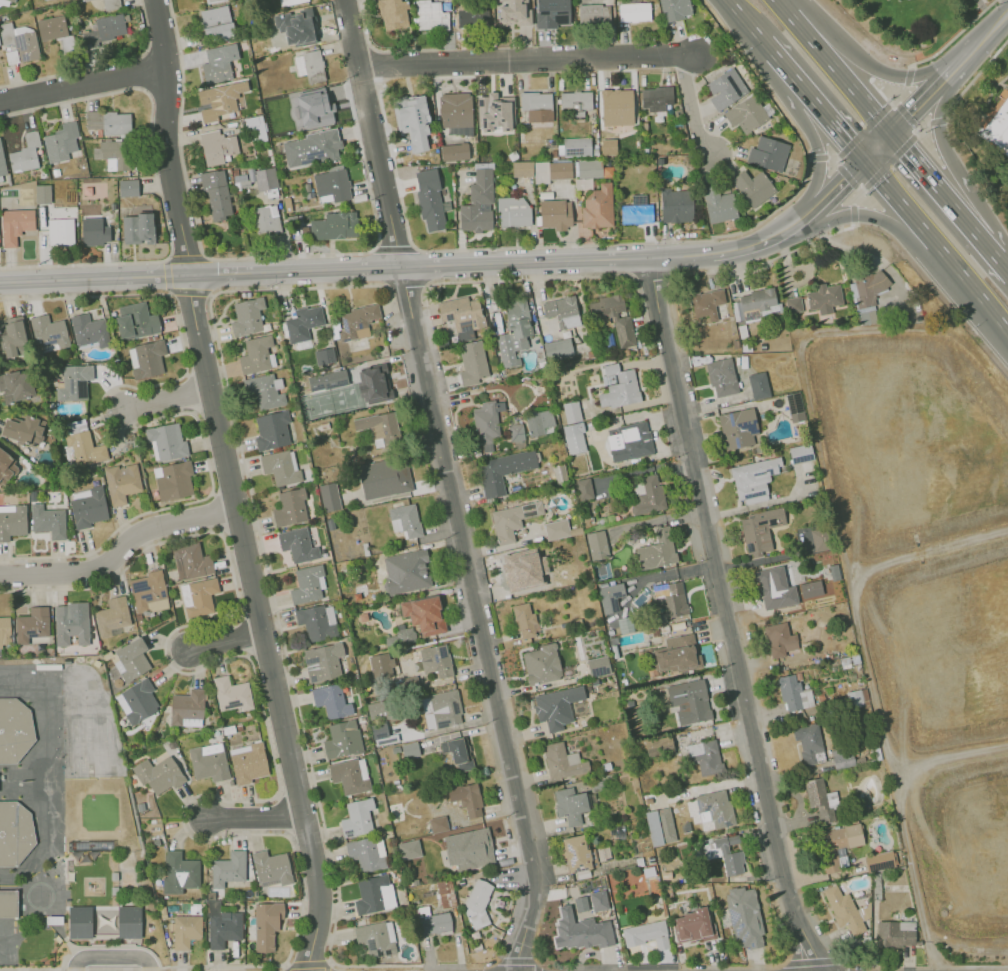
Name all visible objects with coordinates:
building: (12, 0)
building: (85, 0)
building: (213, 1)
building: (289, 2)
building: (3, 4)
building: (110, 4)
road: (975, 7)
building: (674, 9)
building: (633, 11)
building: (513, 13)
building: (392, 14)
building: (594, 14)
building: (472, 16)
building: (216, 22)
road: (741, 24)
park: (917, 25)
building: (51, 27)
building: (301, 28)
building: (104, 30)
road: (954, 36)
road: (984, 37)
building: (20, 41)
road: (381, 49)
road: (532, 61)
building: (218, 63)
road: (99, 65)
building: (309, 65)
road: (835, 66)
road: (376, 67)
road: (874, 68)
road: (781, 73)
road: (974, 77)
road: (84, 84)
building: (725, 88)
building: (655, 97)
building: (575, 99)
building: (219, 100)
road: (927, 100)
road: (893, 104)
building: (320, 106)
building: (536, 106)
building: (616, 106)
road: (690, 107)
building: (455, 109)
building: (494, 111)
road: (904, 112)
building: (747, 113)
traffic signals: (911, 115)
building: (412, 119)
building: (116, 123)
building: (995, 123)
road: (868, 124)
road: (832, 129)
road: (915, 130)
road: (372, 133)
building: (58, 141)
traffic signals: (846, 145)
building: (216, 146)
building: (576, 146)
building: (311, 147)
road: (876, 148)
traffic signals: (907, 150)
road: (943, 150)
building: (454, 151)
building: (24, 153)
building: (767, 153)
building: (116, 154)
road: (895, 155)
road: (837, 161)
road: (818, 163)
building: (2, 166)
road: (393, 168)
building: (521, 168)
building: (588, 168)
building: (552, 171)
traffic signals: (844, 178)
building: (265, 179)
road: (935, 182)
road: (156, 183)
building: (331, 184)
road: (854, 185)
building: (127, 187)
building: (753, 187)
road: (860, 187)
building: (42, 193)
building: (216, 194)
road: (826, 194)
building: (429, 199)
building: (638, 199)
building: (477, 203)
building: (718, 204)
building: (676, 205)
building: (597, 207)
building: (512, 211)
building: (555, 213)
building: (636, 213)
building: (266, 219)
road: (880, 219)
building: (14, 225)
building: (334, 225)
building: (137, 228)
building: (60, 231)
building: (94, 231)
road: (630, 243)
road: (935, 246)
road: (393, 248)
road: (859, 249)
road: (993, 249)
road: (315, 254)
road: (598, 258)
road: (769, 260)
road: (200, 274)
road: (166, 275)
road: (656, 276)
road: (530, 278)
road: (406, 285)
road: (297, 288)
building: (869, 289)
building: (823, 298)
building: (759, 299)
building: (707, 303)
building: (793, 304)
building: (559, 315)
building: (247, 316)
building: (613, 316)
building: (464, 317)
building: (135, 320)
building: (357, 321)
building: (303, 322)
building: (89, 329)
building: (515, 331)
building: (48, 332)
building: (11, 335)
building: (441, 342)
building: (557, 349)
building: (255, 354)
building: (324, 356)
building: (146, 358)
building: (472, 362)
building: (721, 376)
building: (327, 380)
building: (73, 382)
building: (373, 383)
building: (758, 385)
building: (15, 386)
building: (265, 390)
building: (620, 390)
road: (169, 404)
building: (794, 406)
building: (582, 409)
building: (572, 411)
building: (486, 422)
building: (538, 422)
building: (380, 426)
building: (22, 428)
building: (737, 428)
road: (120, 430)
building: (271, 430)
building: (516, 432)
building: (166, 441)
building: (575, 441)
building: (629, 441)
building: (84, 445)
building: (800, 453)
building: (280, 466)
building: (6, 467)
building: (503, 470)
building: (559, 473)
building: (384, 477)
building: (173, 479)
building: (753, 479)
building: (121, 482)
road: (232, 486)
building: (584, 489)
building: (645, 494)
building: (329, 496)
building: (87, 506)
building: (290, 507)
building: (512, 519)
building: (12, 520)
building: (47, 520)
building: (761, 528)
building: (559, 529)
building: (297, 544)
building: (597, 545)
road: (118, 548)
building: (656, 551)
building: (191, 562)
building: (406, 571)
building: (516, 572)
building: (832, 572)
building: (307, 583)
building: (779, 589)
building: (810, 589)
building: (148, 591)
building: (198, 596)
building: (610, 597)
building: (671, 602)
building: (423, 614)
building: (112, 615)
road: (728, 617)
road: (483, 620)
building: (317, 621)
building: (71, 622)
building: (525, 622)
building: (31, 624)
building: (676, 626)
building: (663, 629)
building: (4, 630)
building: (402, 636)
building: (779, 640)
road: (228, 644)
building: (613, 645)
building: (678, 655)
building: (131, 659)
building: (435, 660)
building: (568, 661)
building: (322, 662)
building: (541, 664)
building: (598, 666)
road: (289, 673)
building: (594, 682)
building: (231, 693)
building: (793, 694)
building: (820, 698)
building: (853, 698)
building: (331, 700)
building: (137, 701)
building: (629, 702)
building: (689, 702)
building: (556, 706)
building: (186, 708)
building: (441, 709)
road: (453, 727)
building: (14, 730)
building: (383, 735)
building: (342, 739)
building: (807, 742)
building: (659, 745)
building: (410, 750)
building: (458, 752)
building: (704, 756)
building: (841, 756)
building: (208, 761)
building: (247, 762)
building: (560, 763)
building: (158, 774)
building: (349, 775)
road: (277, 787)
building: (466, 798)
building: (649, 799)
building: (818, 800)
building: (569, 805)
building: (714, 809)
road: (257, 817)
building: (357, 817)
building: (437, 823)
building: (660, 826)
building: (14, 832)
building: (852, 835)
building: (408, 848)
building: (469, 848)
building: (366, 853)
building: (575, 853)
building: (724, 853)
building: (649, 860)
building: (879, 860)
building: (271, 866)
building: (228, 868)
building: (178, 872)
building: (114, 875)
building: (675, 878)
building: (115, 890)
building: (445, 893)
building: (373, 894)
building: (591, 902)
building: (9, 903)
building: (476, 903)
building: (845, 909)
building: (745, 916)
building: (55, 919)
building: (105, 921)
building: (434, 922)
building: (266, 924)
building: (693, 925)
building: (223, 927)
building: (580, 929)
building: (185, 930)
building: (895, 933)
building: (646, 934)
building: (376, 937)
road: (113, 956)
road: (811, 961)
road: (521, 962)
road: (308, 963)
road: (489, 964)
road: (450, 966)
road: (478, 969)

